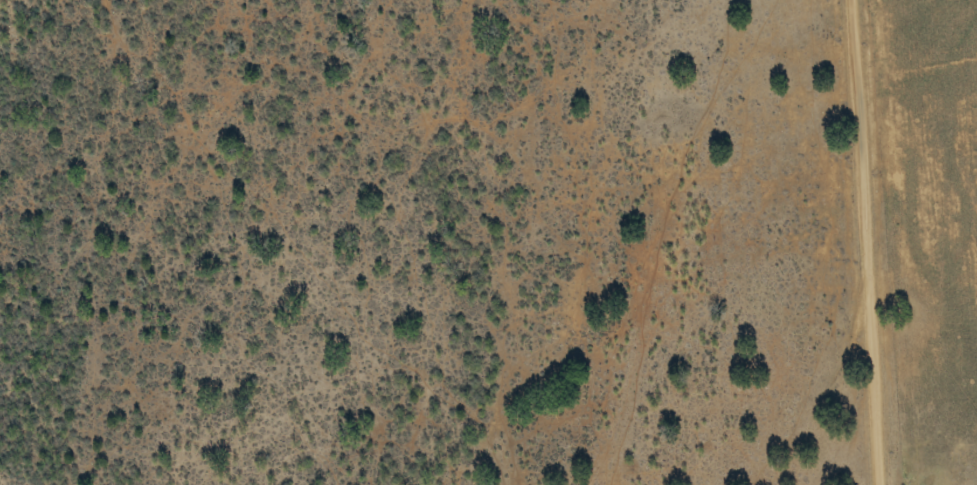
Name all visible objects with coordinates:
road: (873, 242)

